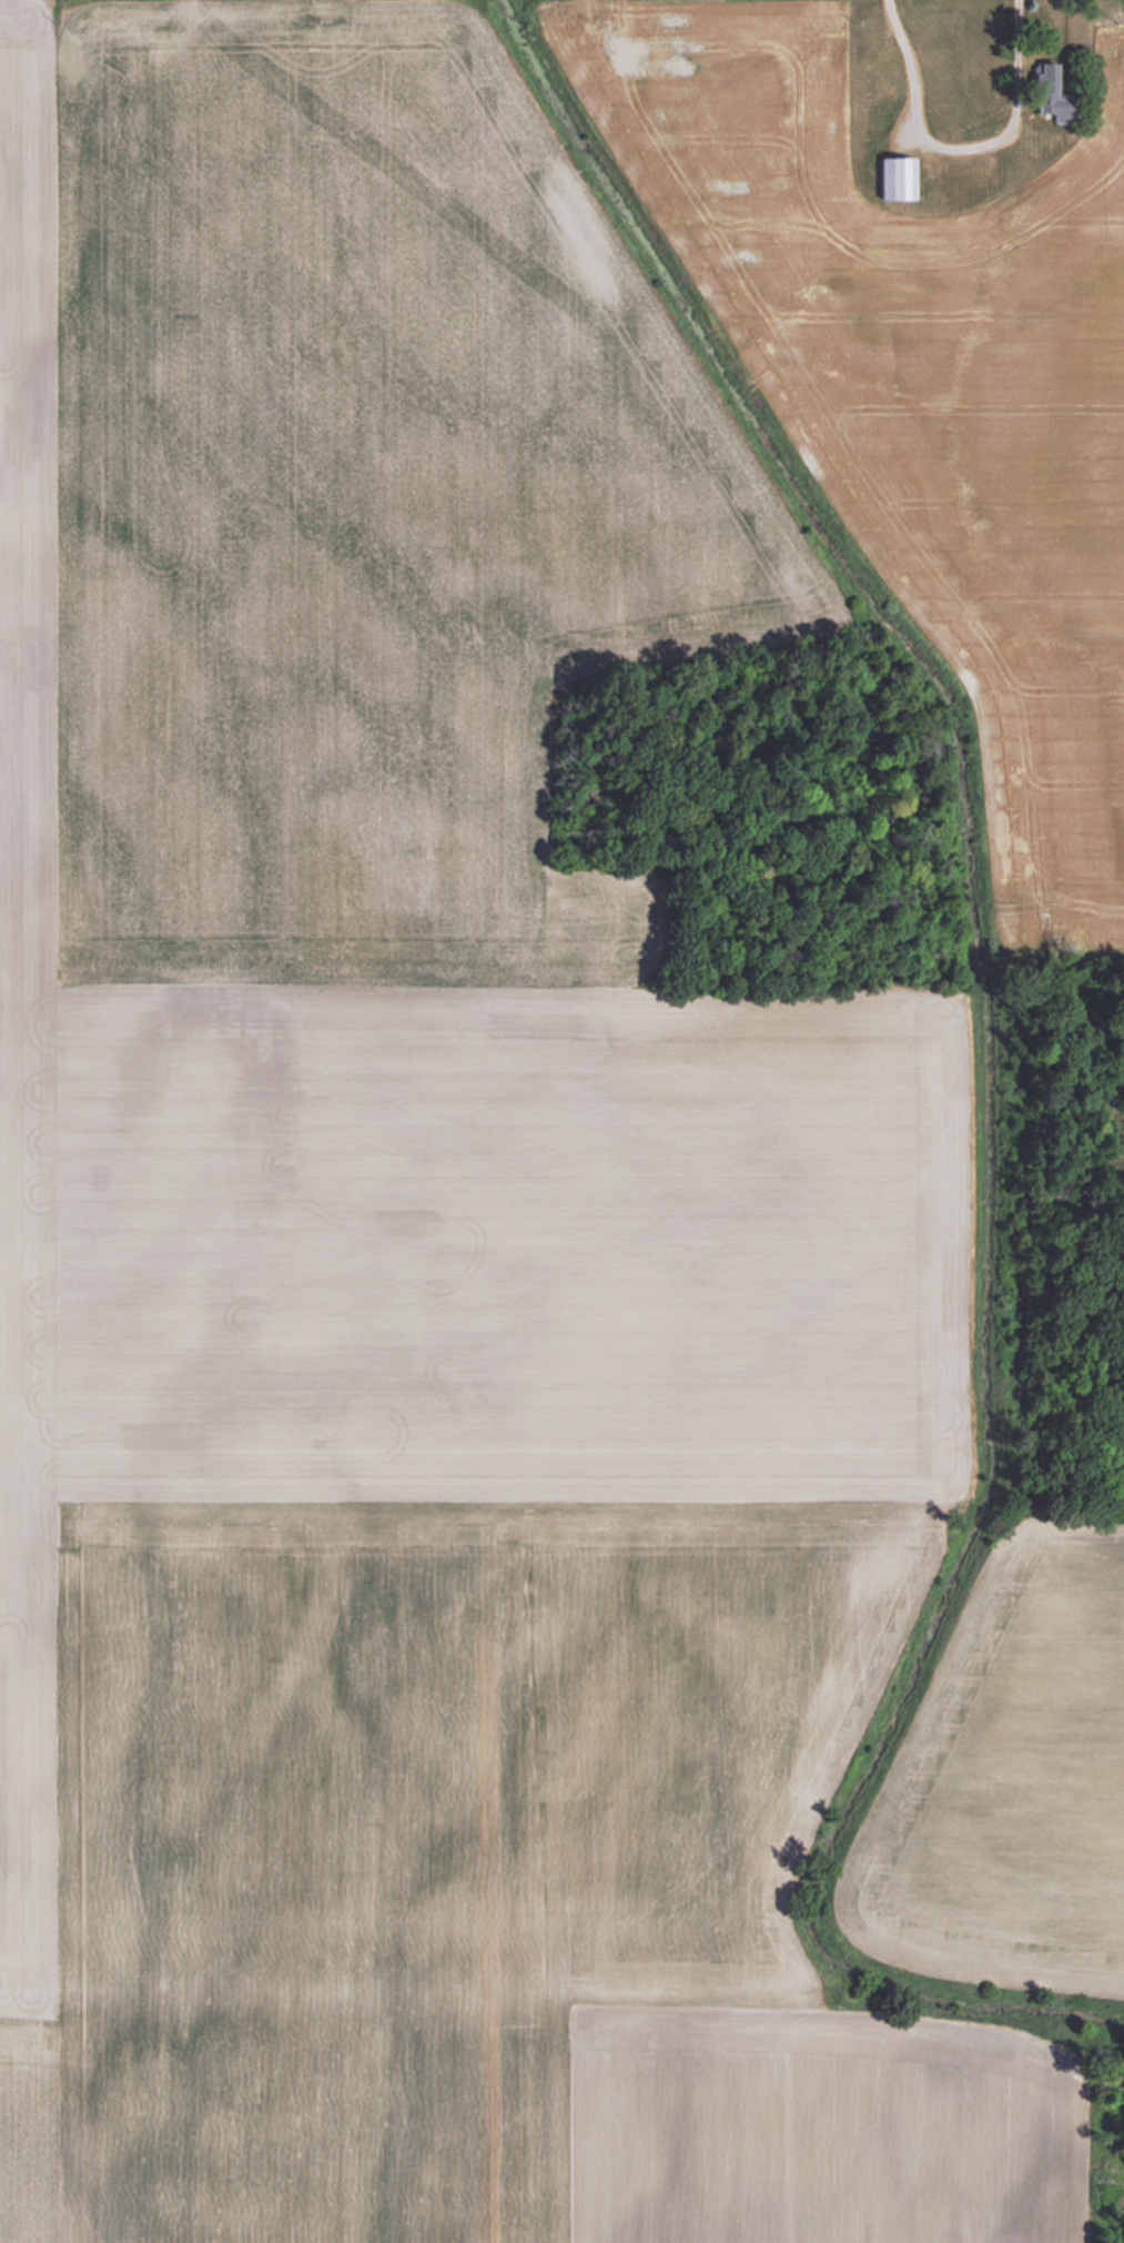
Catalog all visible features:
building: (1050, 94)
road: (955, 148)
building: (966, 165)
building: (895, 179)

